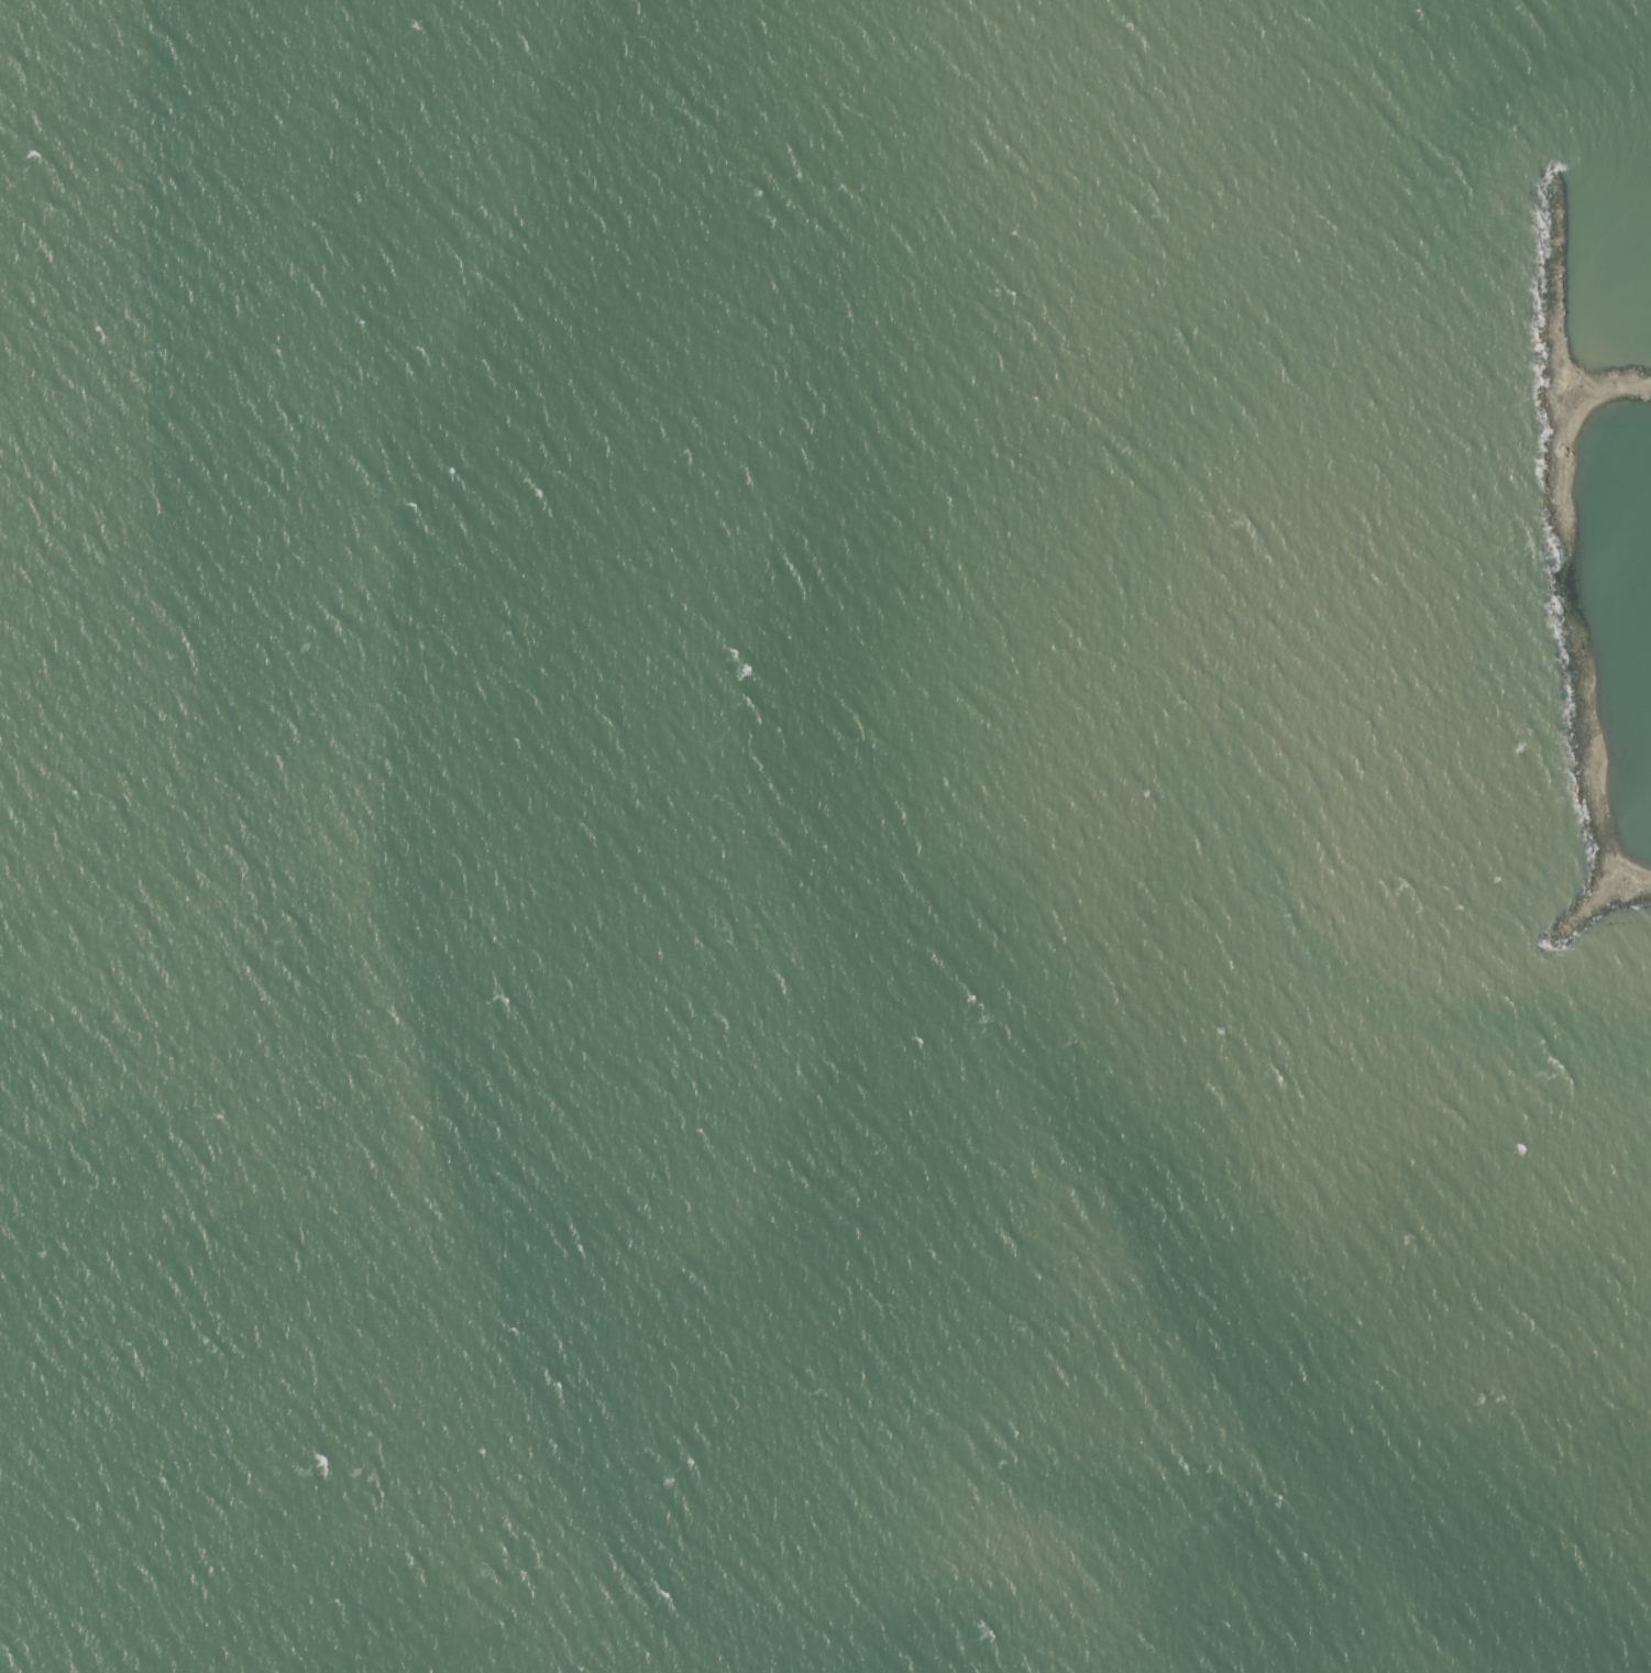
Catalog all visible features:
road: (1609, 392)
park: (1597, 590)
road: (1639, 884)

